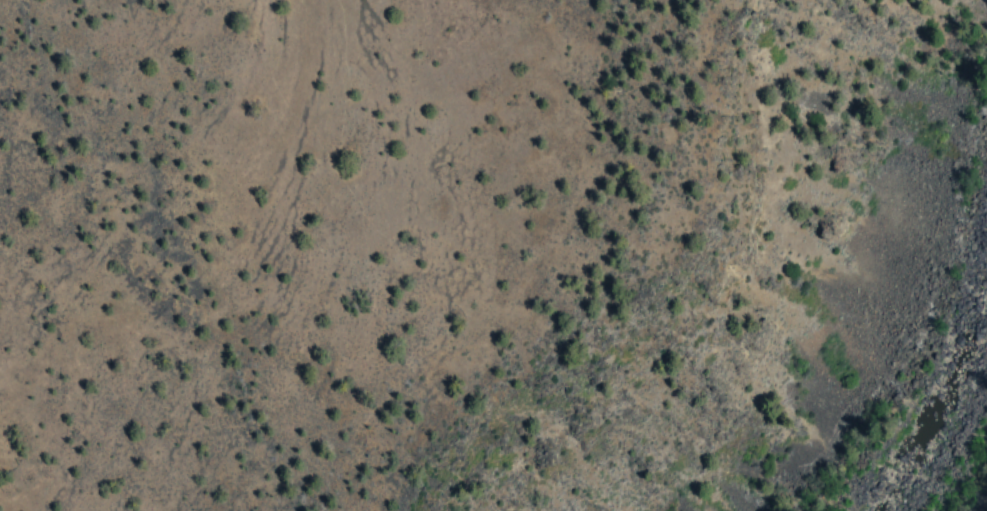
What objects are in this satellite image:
river: (946, 427)

